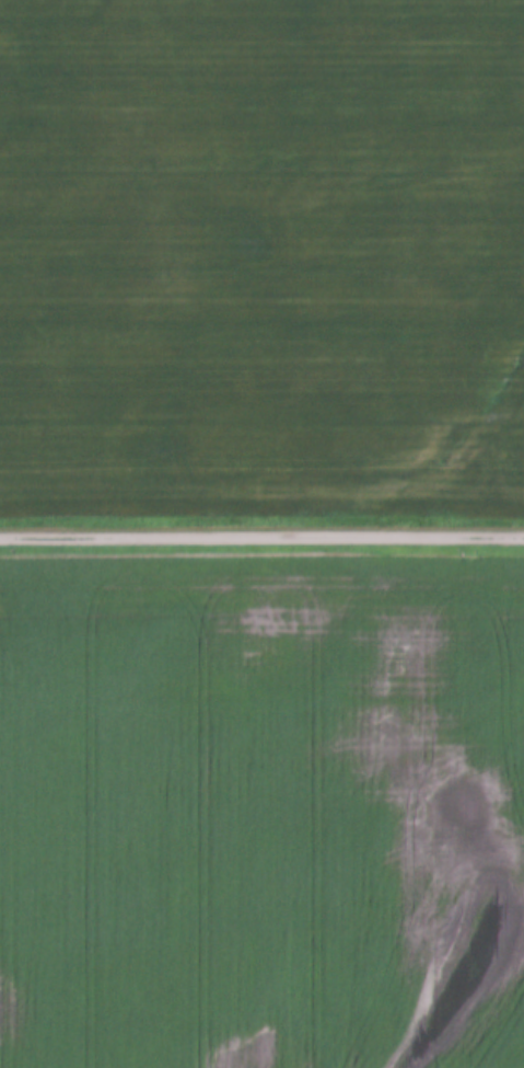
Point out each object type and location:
road: (261, 532)

